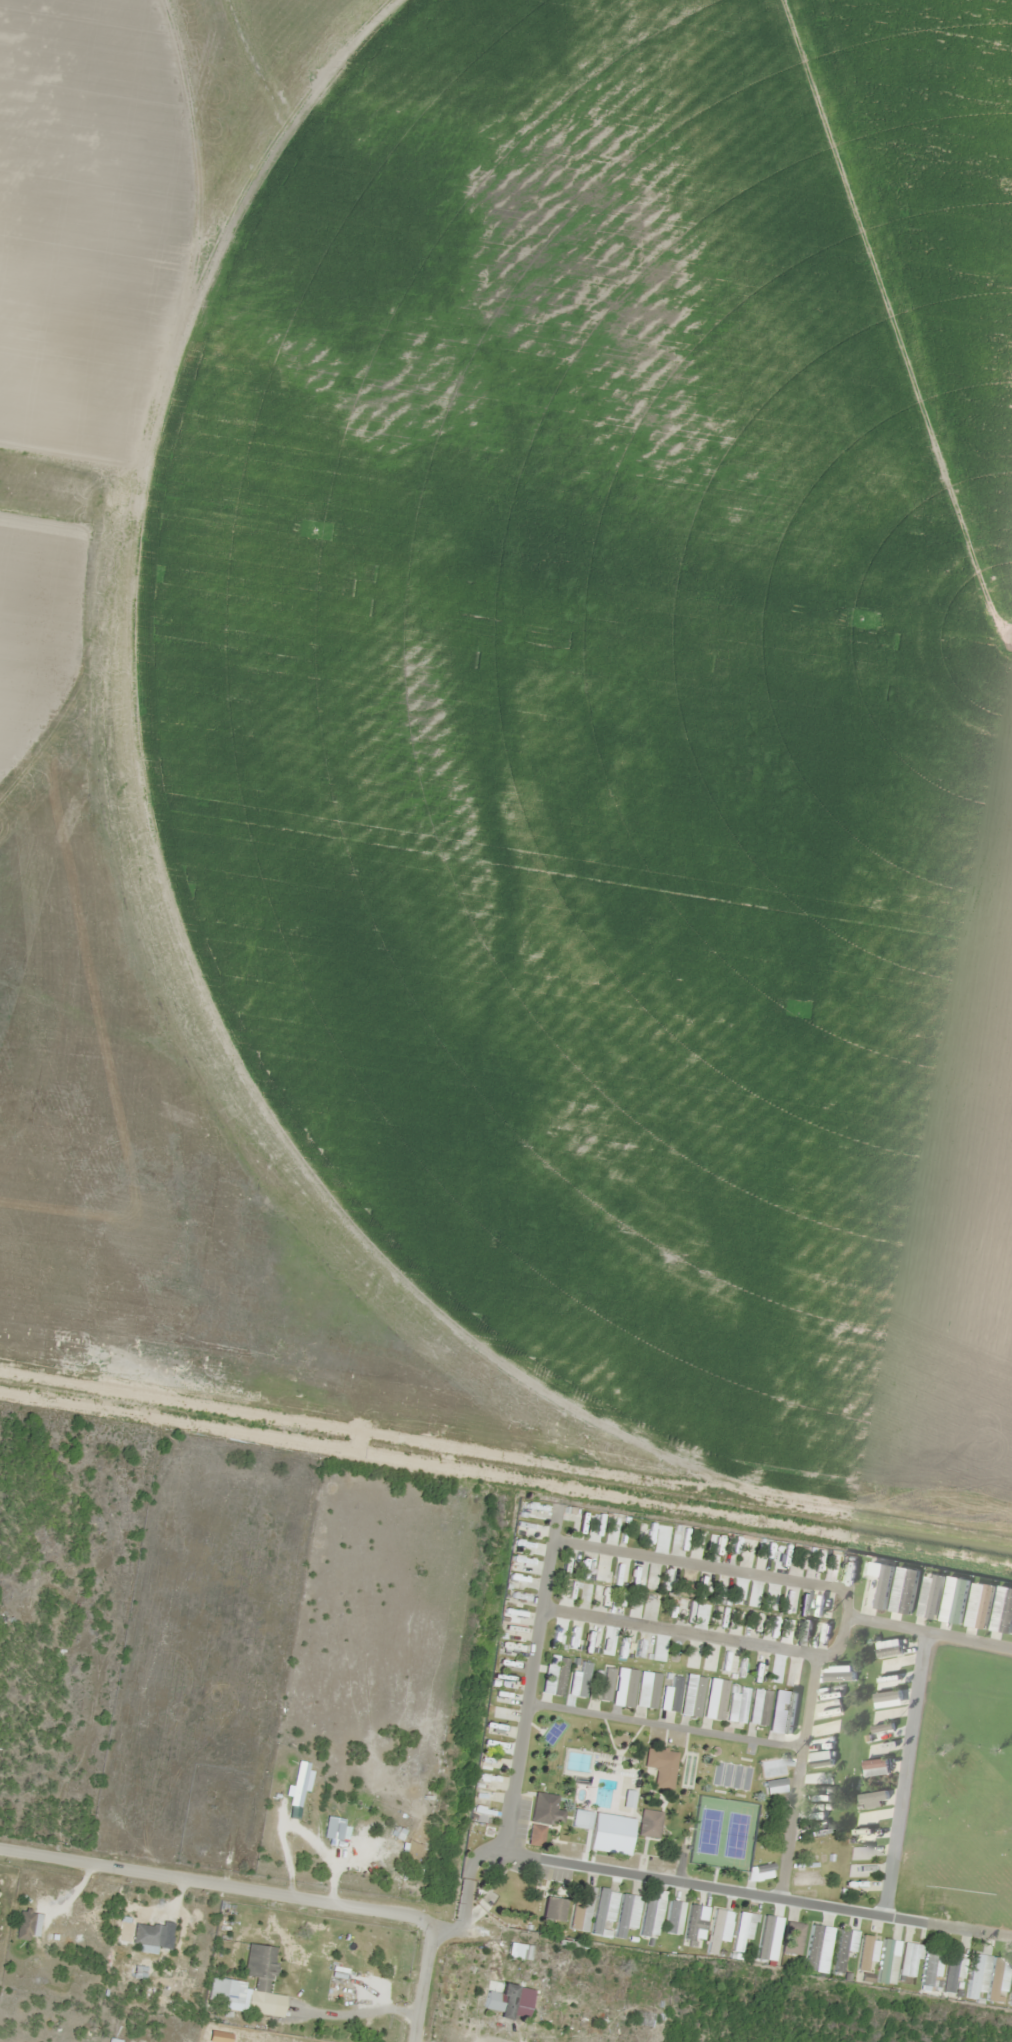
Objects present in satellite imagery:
road: (638, 1554)
building: (876, 1587)
building: (903, 1593)
building: (928, 1599)
building: (952, 1601)
building: (977, 1607)
building: (1002, 1610)
road: (682, 1632)
building: (591, 1643)
building: (553, 1675)
building: (839, 1678)
building: (578, 1682)
building: (626, 1688)
building: (646, 1690)
building: (603, 1695)
building: (669, 1697)
building: (692, 1700)
building: (713, 1700)
building: (785, 1705)
building: (758, 1707)
building: (736, 1708)
building: (879, 1717)
road: (663, 1724)
building: (829, 1728)
road: (801, 1750)
building: (819, 1760)
building: (778, 1766)
road: (904, 1773)
building: (296, 1784)
building: (774, 1788)
building: (541, 1817)
building: (600, 1824)
building: (647, 1824)
building: (815, 1831)
building: (861, 1853)
building: (859, 1870)
building: (759, 1872)
building: (804, 1879)
road: (216, 1885)
road: (466, 1892)
road: (755, 1894)
building: (580, 1908)
building: (550, 1909)
building: (604, 1913)
building: (625, 1914)
building: (651, 1915)
building: (673, 1918)
building: (695, 1922)
building: (21, 1925)
building: (718, 1929)
building: (743, 1930)
building: (136, 1934)
building: (791, 1939)
building: (839, 1952)
building: (864, 1952)
building: (909, 1960)
building: (888, 1961)
building: (258, 1966)
building: (932, 1966)
building: (138, 1969)
building: (952, 1972)
building: (977, 1977)
building: (997, 1980)
road: (423, 1981)
building: (215, 1989)
building: (1010, 1989)
building: (506, 2002)

